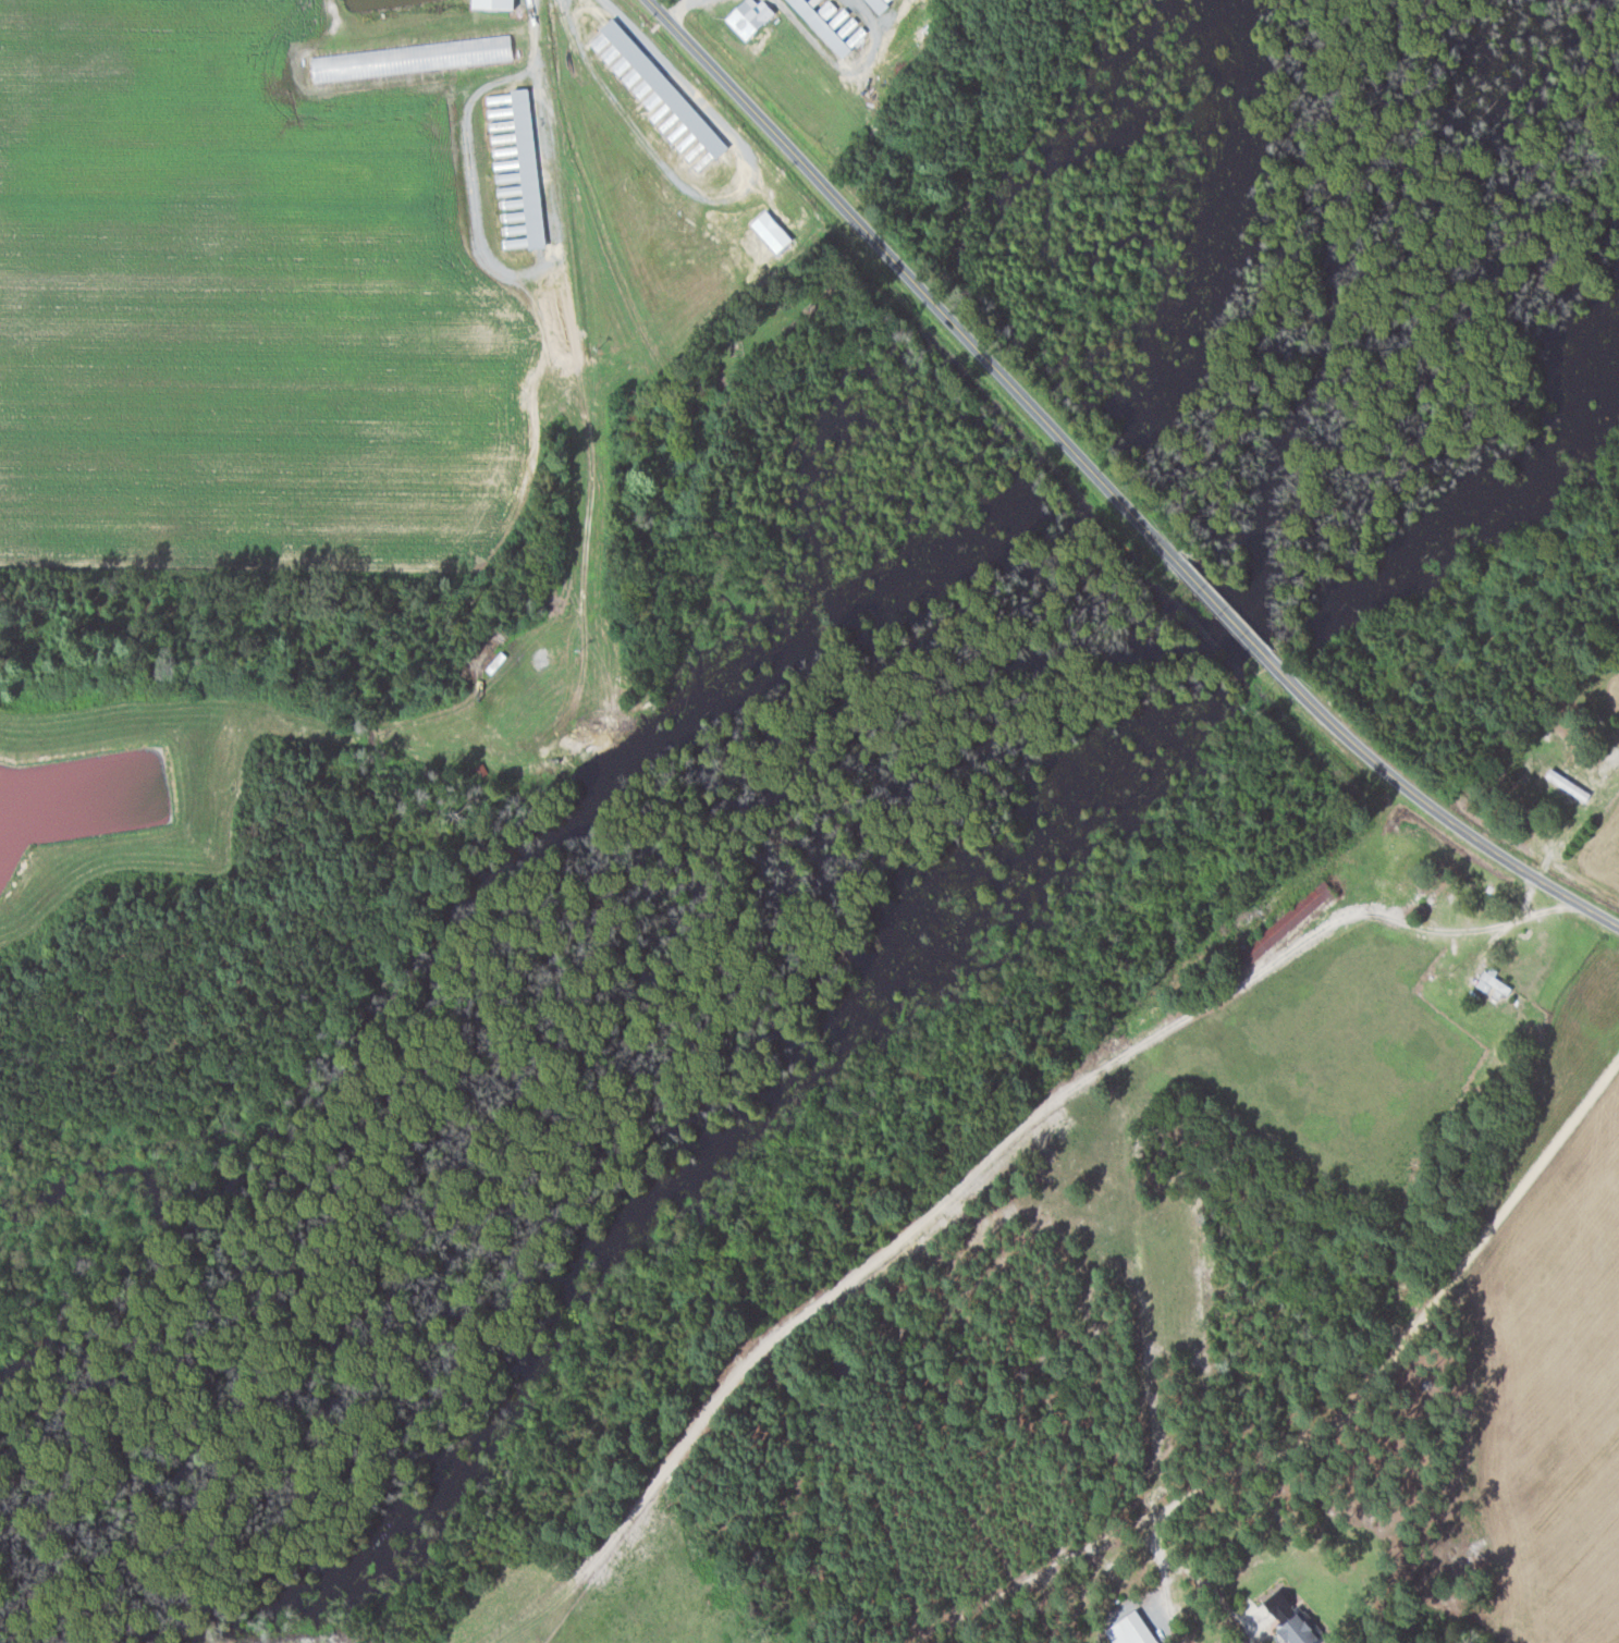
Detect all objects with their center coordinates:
building: (876, 4)
building: (748, 16)
building: (850, 28)
building: (483, 49)
building: (657, 95)
building: (518, 160)
building: (512, 203)
building: (769, 231)
road: (917, 278)
road: (1223, 612)
road: (1433, 809)
river: (857, 894)
building: (1285, 922)
building: (1492, 984)
road: (1400, 1347)
road: (1172, 1611)
building: (1291, 1620)
building: (1129, 1630)
road: (1251, 1636)

